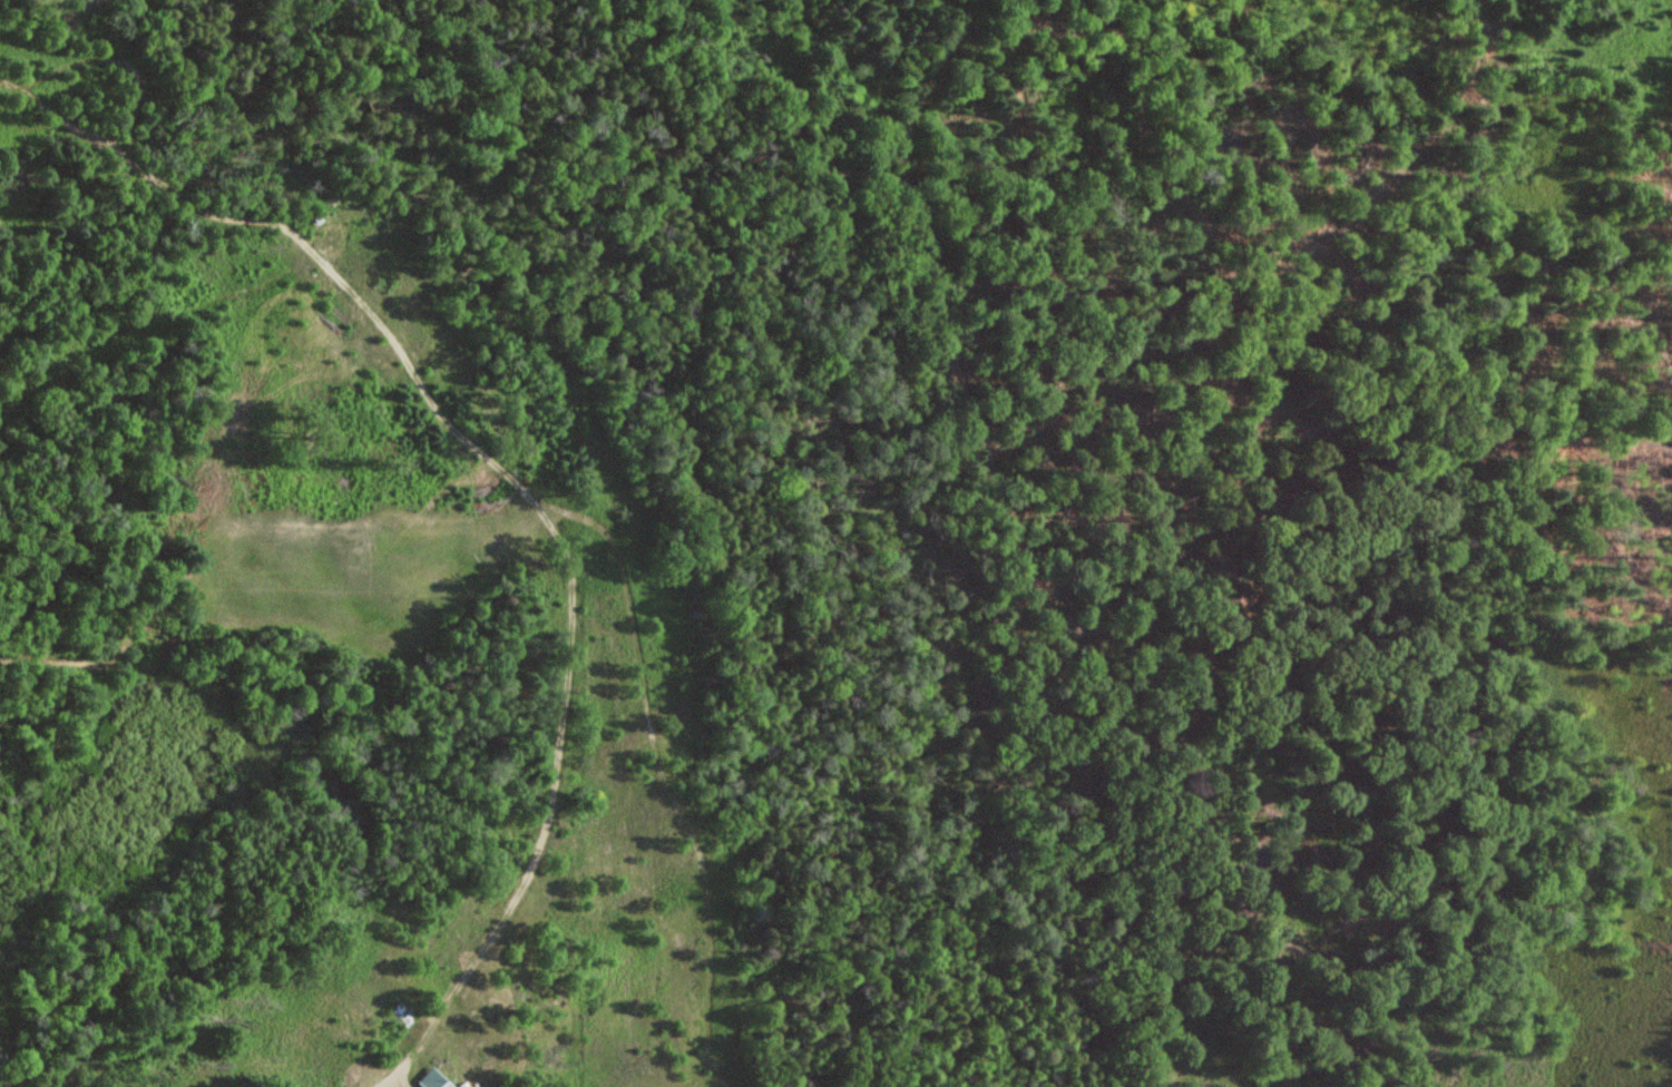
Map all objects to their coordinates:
road: (74, 126)
road: (471, 447)
road: (388, 1077)
road: (404, 1078)
building: (440, 1083)

